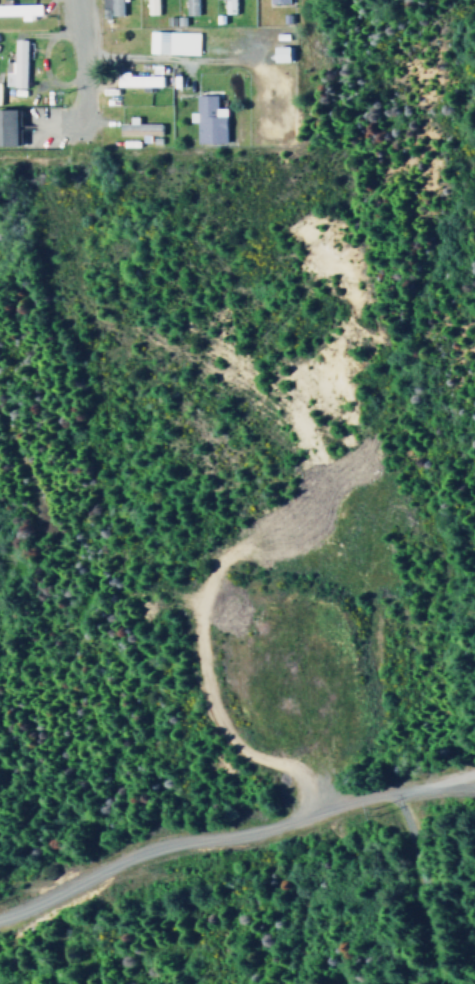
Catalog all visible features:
building: (276, 1)
building: (150, 6)
building: (227, 6)
building: (109, 7)
building: (189, 7)
building: (18, 9)
building: (171, 41)
building: (280, 53)
road: (74, 61)
building: (14, 65)
building: (137, 79)
building: (207, 119)
building: (7, 126)
building: (138, 128)
power tower: (367, 809)
road: (232, 830)

